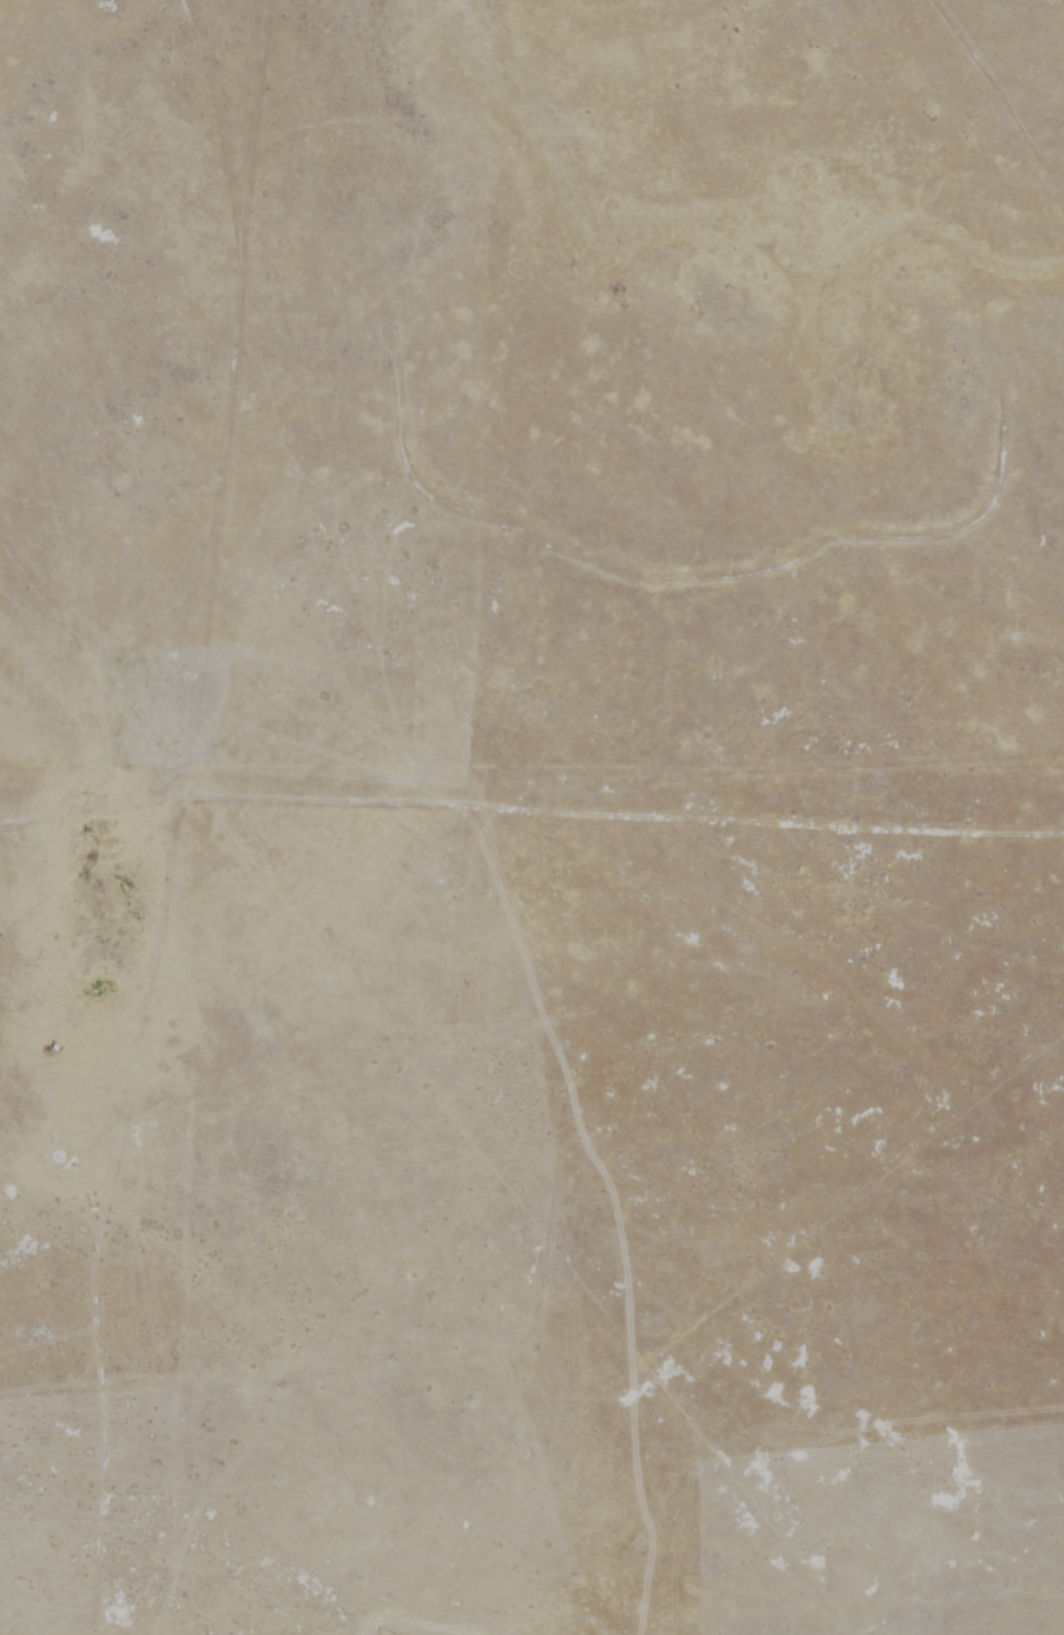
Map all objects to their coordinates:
road: (216, 813)
road: (531, 938)

